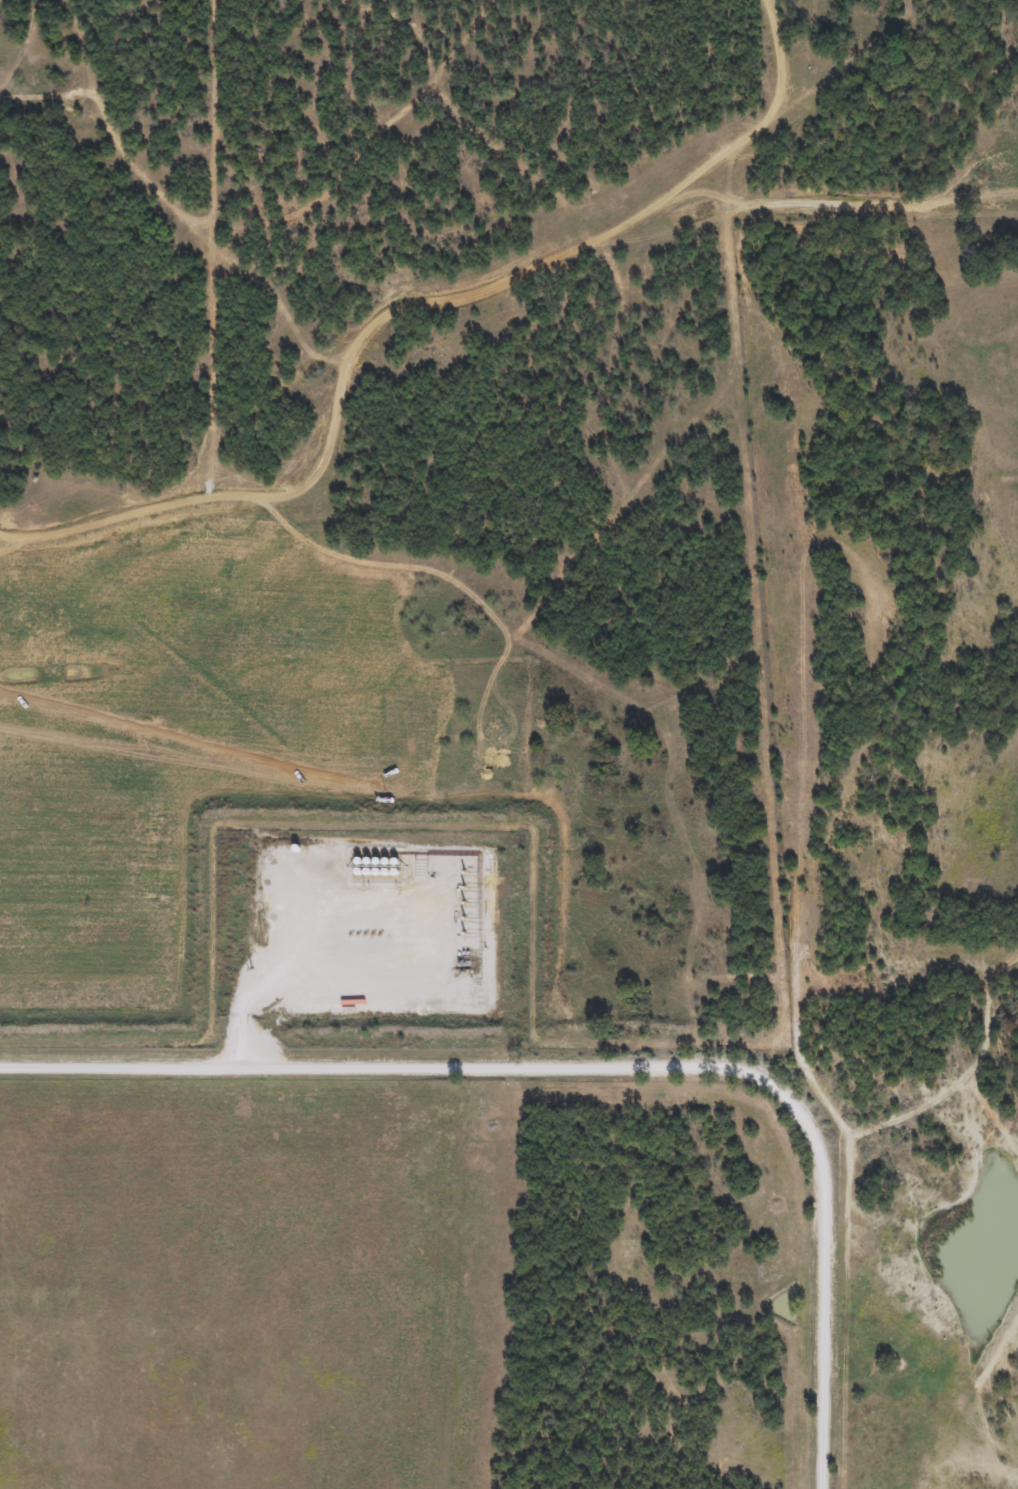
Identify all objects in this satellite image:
road: (400, 312)
road: (8, 540)
road: (598, 1084)

